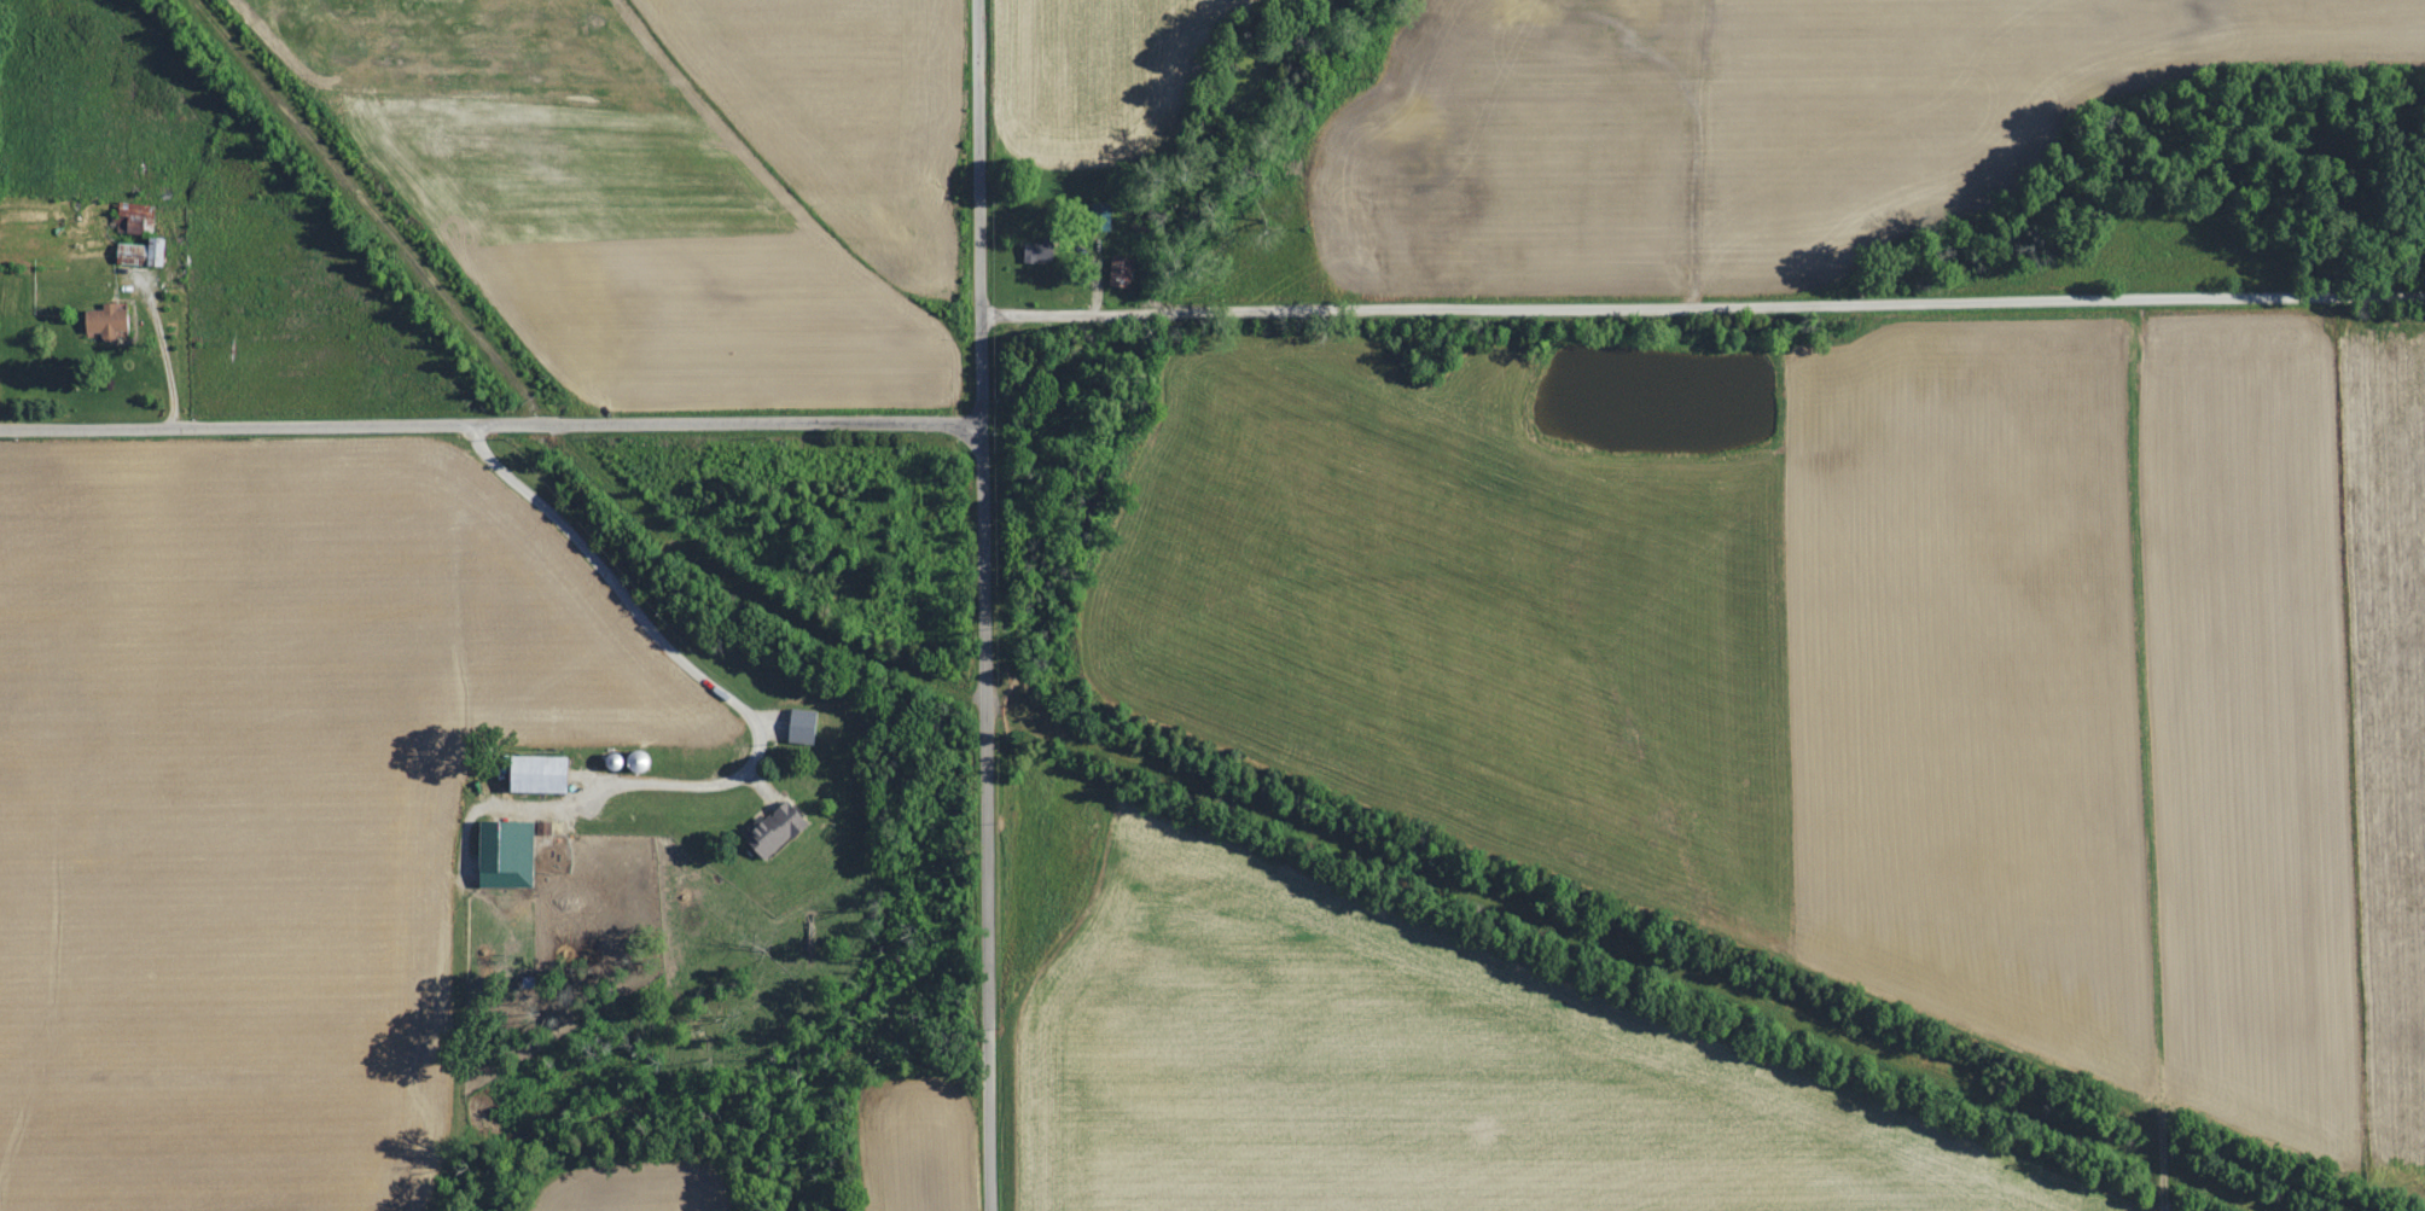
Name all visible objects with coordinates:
road: (983, 210)
building: (132, 216)
building: (1036, 250)
building: (139, 251)
building: (1118, 270)
road: (1705, 305)
building: (105, 319)
road: (163, 349)
road: (489, 426)
road: (663, 644)
building: (799, 724)
building: (536, 773)
road: (984, 816)
building: (773, 829)
building: (504, 852)

